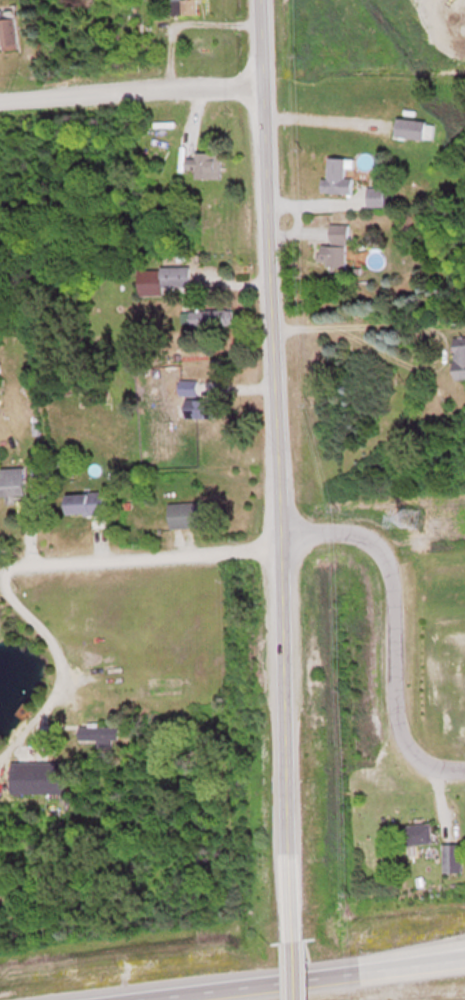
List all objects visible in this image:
building: (182, 6)
building: (8, 28)
road: (130, 94)
building: (409, 127)
building: (205, 164)
building: (337, 175)
building: (376, 196)
building: (338, 232)
building: (331, 255)
building: (160, 279)
building: (199, 318)
road: (367, 324)
building: (458, 361)
building: (193, 401)
road: (275, 475)
building: (11, 481)
building: (85, 502)
building: (185, 514)
power tower: (406, 518)
road: (321, 532)
road: (55, 646)
building: (97, 733)
building: (36, 777)
building: (417, 833)
building: (451, 858)
road: (297, 975)
road: (317, 981)

